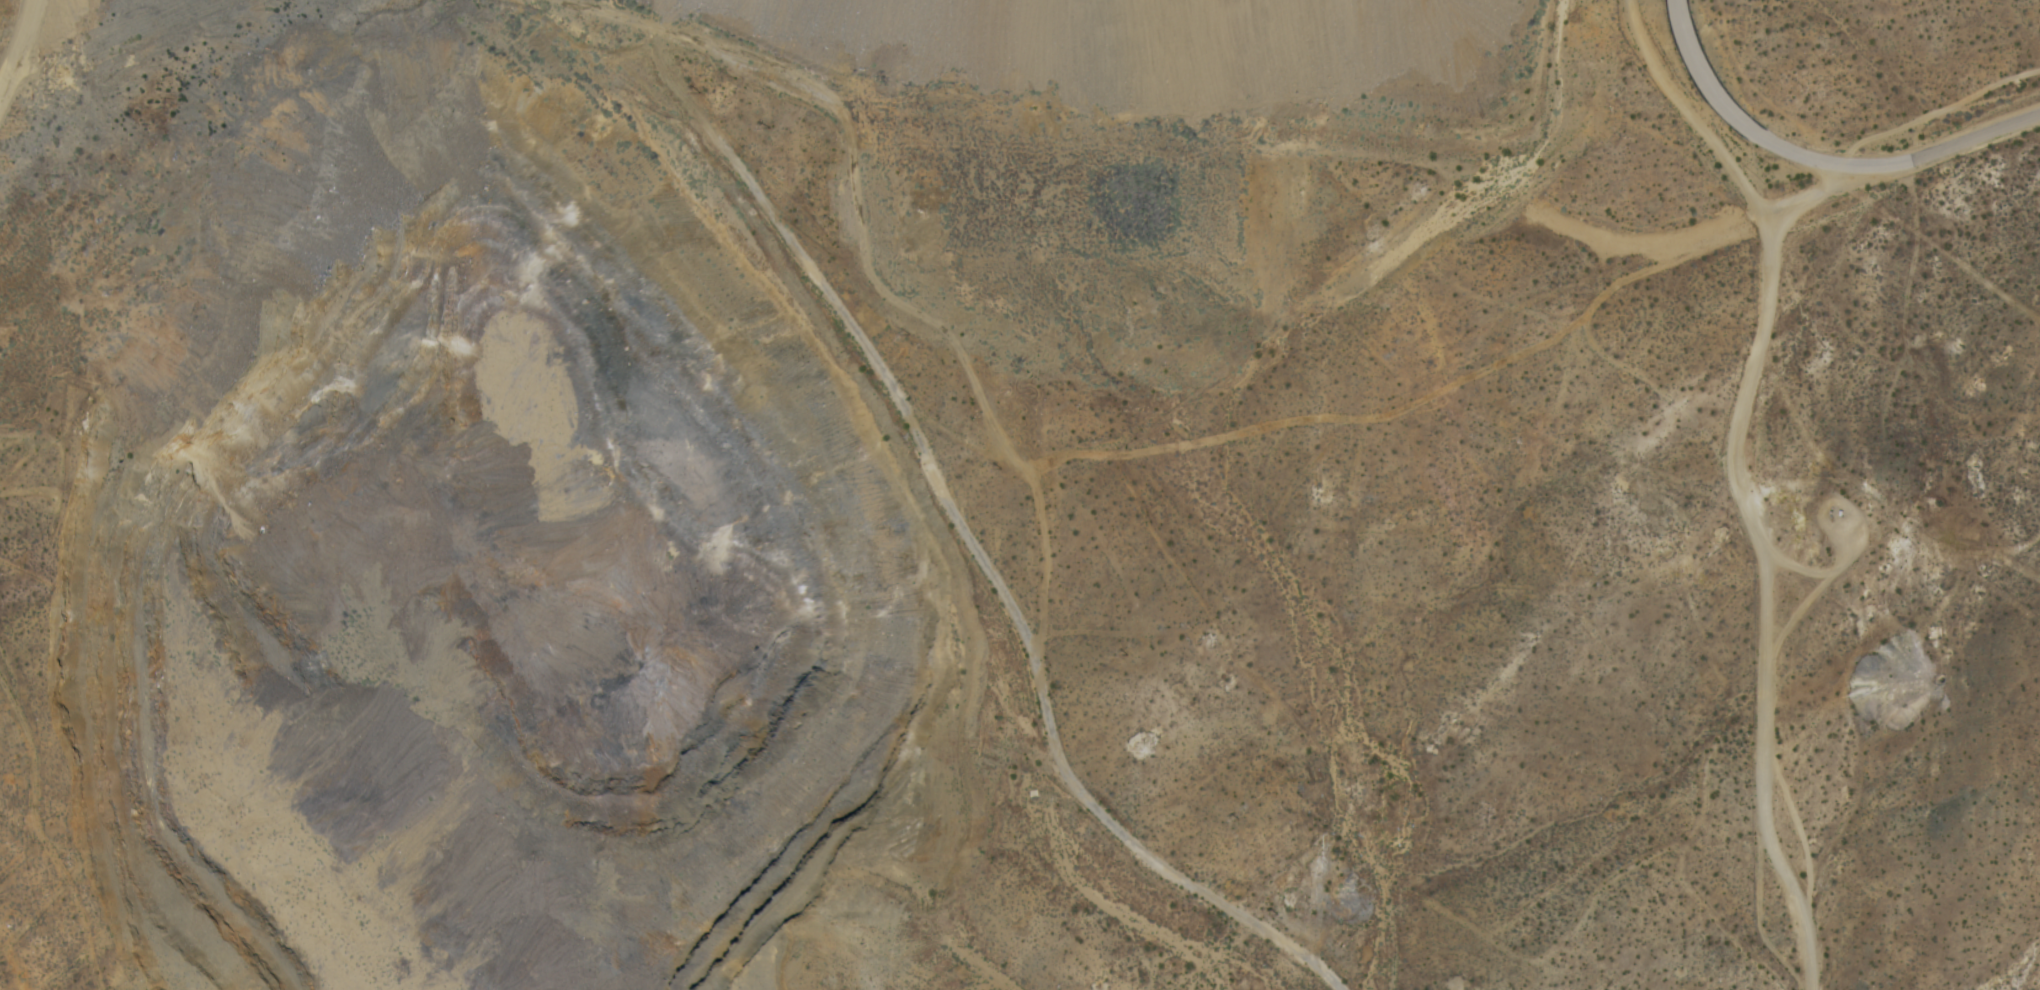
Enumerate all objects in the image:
road: (1760, 135)
road: (1979, 138)
road: (1691, 233)
crop: (1407, 440)
road: (1735, 477)
road: (1850, 552)
road: (1786, 560)
power tower: (5, 596)

